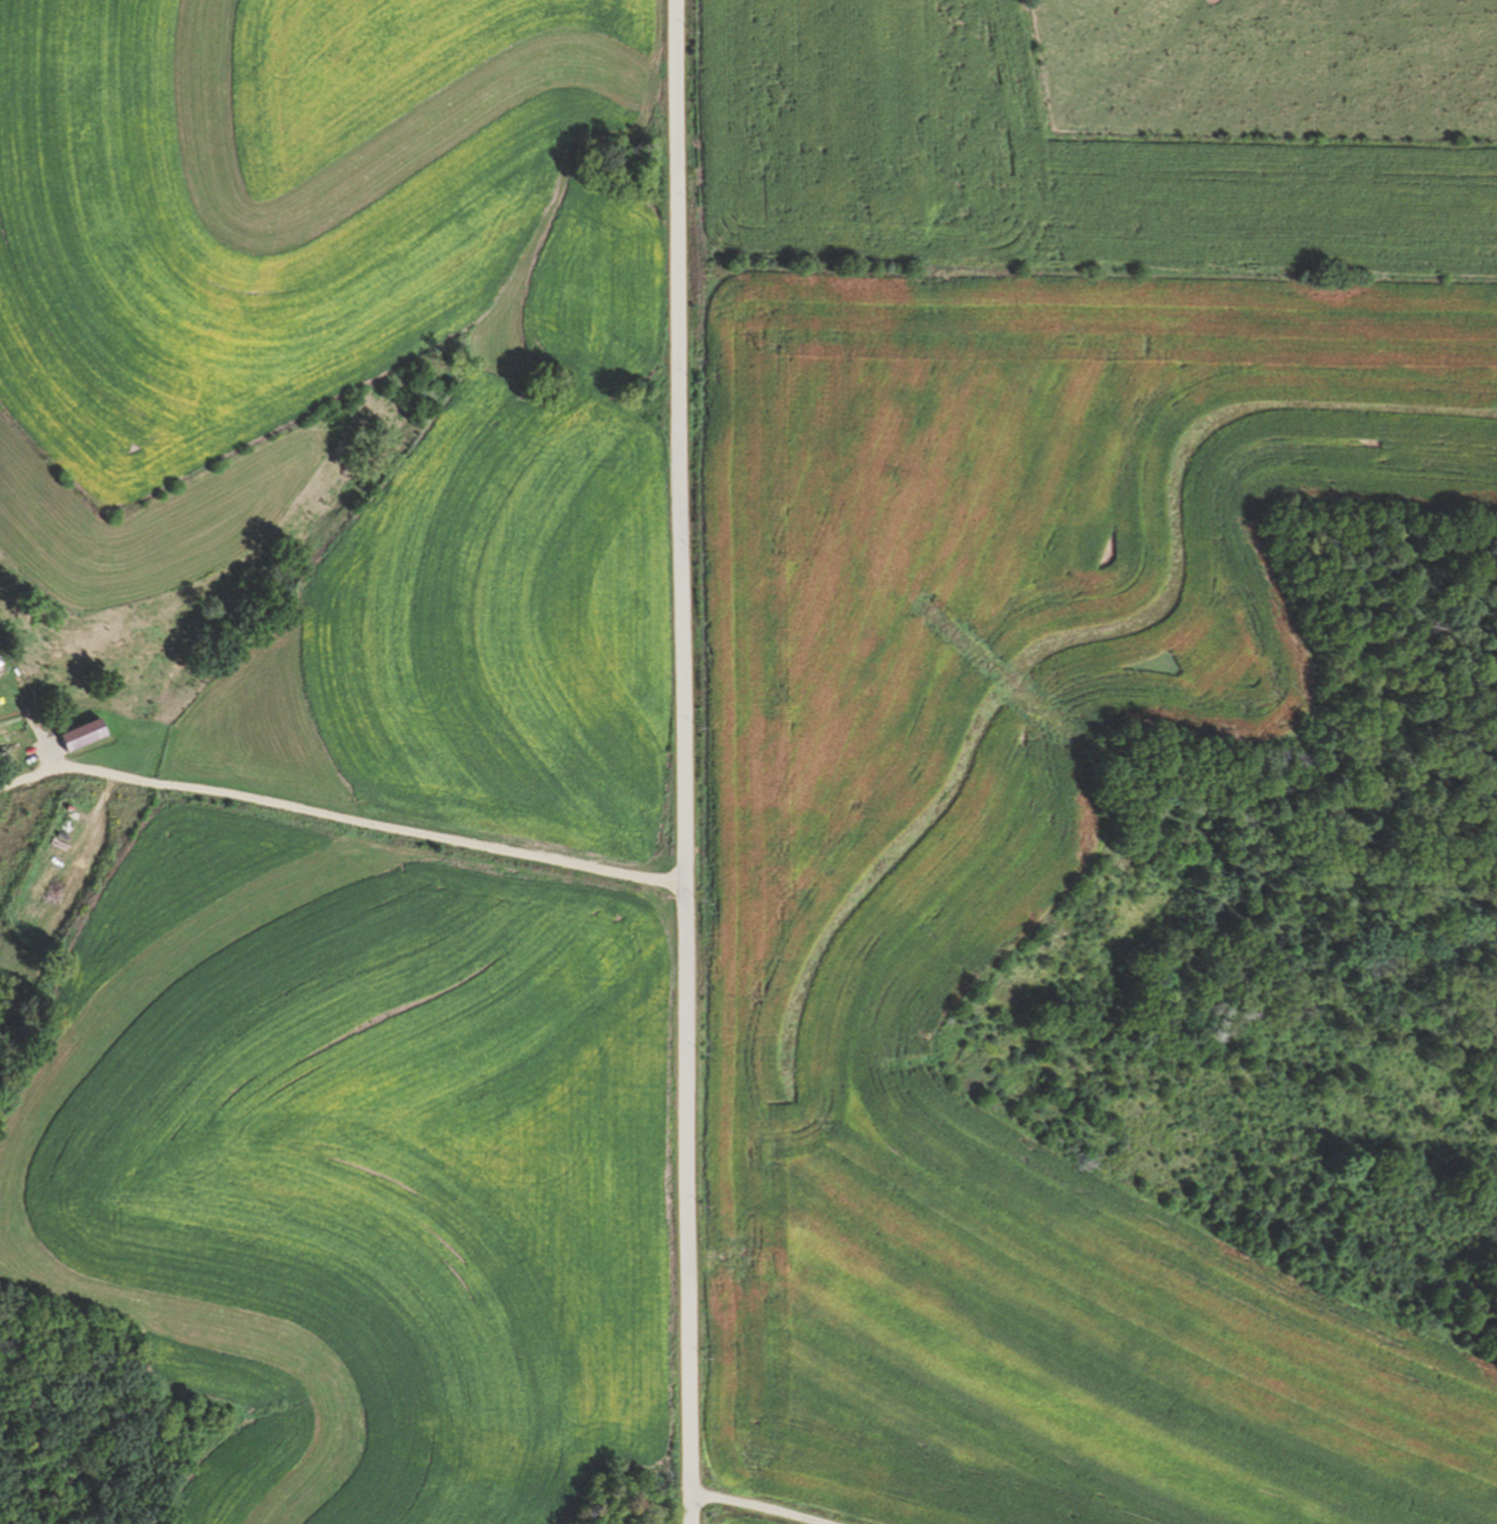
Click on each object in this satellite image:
building: (1, 662)
road: (682, 762)
road: (341, 819)
road: (754, 1508)

